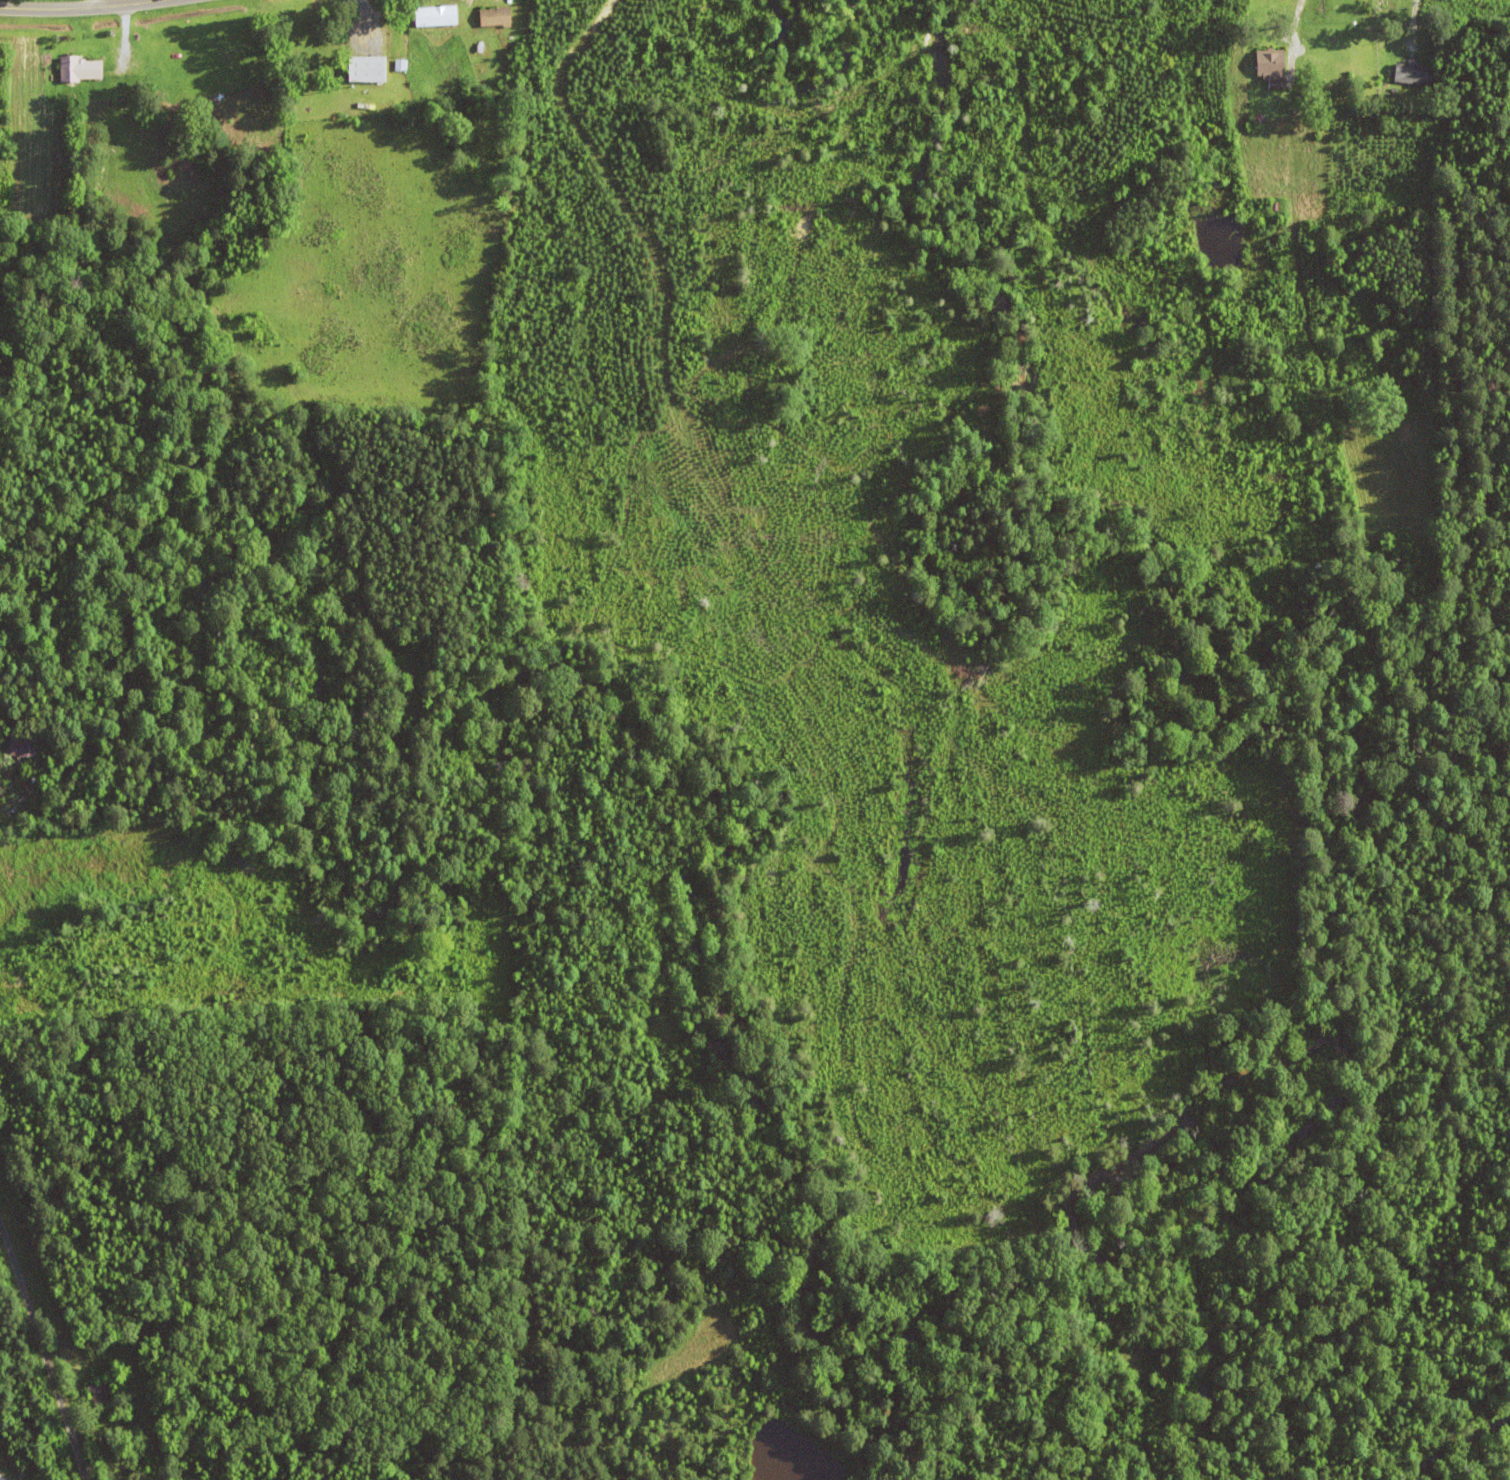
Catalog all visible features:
road: (71, 5)
road: (43, 1354)

